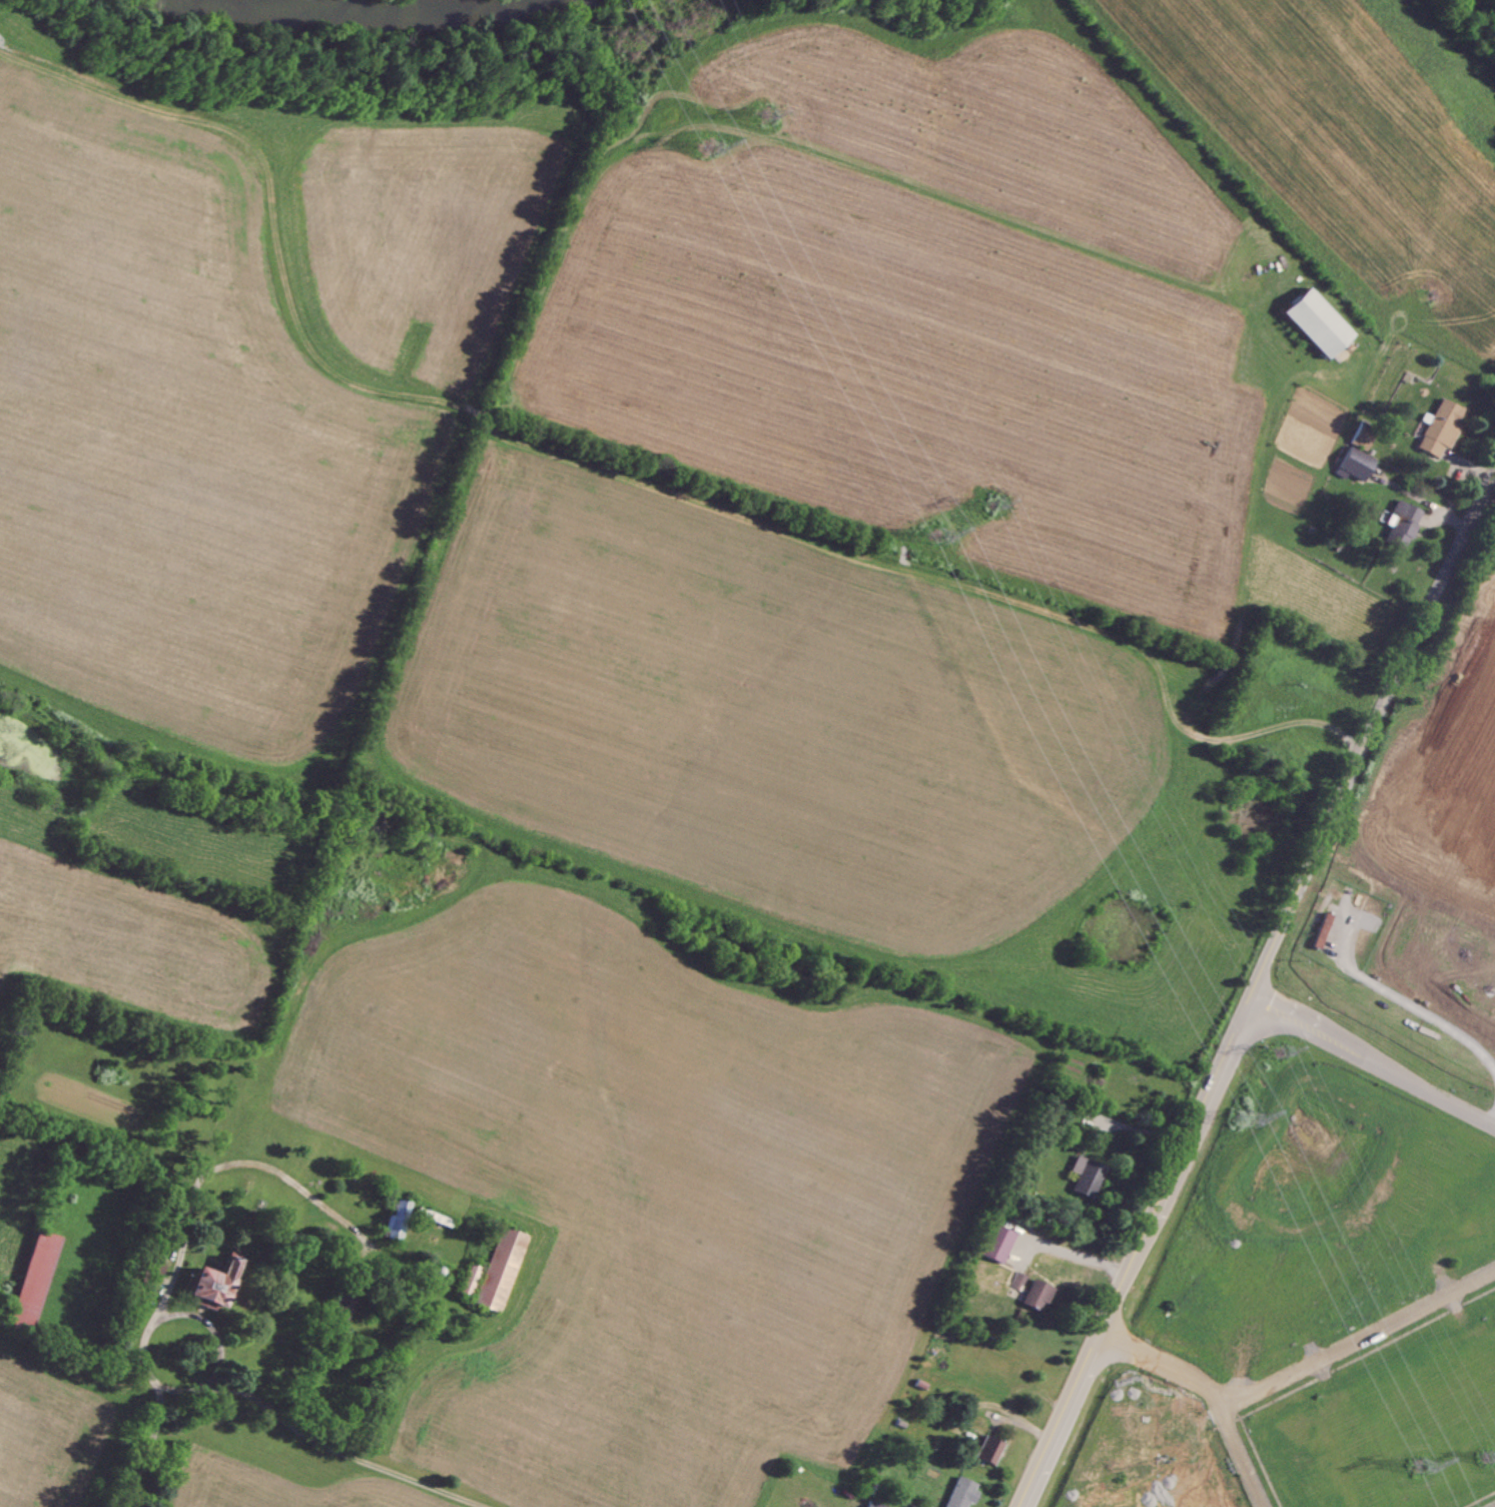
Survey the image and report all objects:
river: (348, 16)
power tower: (766, 114)
power tower: (714, 150)
building: (1319, 323)
building: (1441, 429)
building: (1363, 437)
building: (1356, 464)
power tower: (992, 503)
building: (1403, 524)
power tower: (942, 545)
road: (1255, 992)
power tower: (1283, 1054)
road: (1373, 1062)
power tower: (1248, 1127)
building: (1089, 1176)
building: (399, 1218)
building: (999, 1243)
road: (1081, 1256)
road: (174, 1257)
building: (502, 1268)
building: (471, 1279)
building: (1020, 1280)
building: (216, 1283)
building: (1038, 1294)
road: (1360, 1339)
road: (222, 1346)
road: (1214, 1393)
building: (991, 1450)
road: (345, 1453)
power tower: (1489, 1464)
power tower: (1426, 1481)
building: (964, 1492)
building: (876, 1504)

